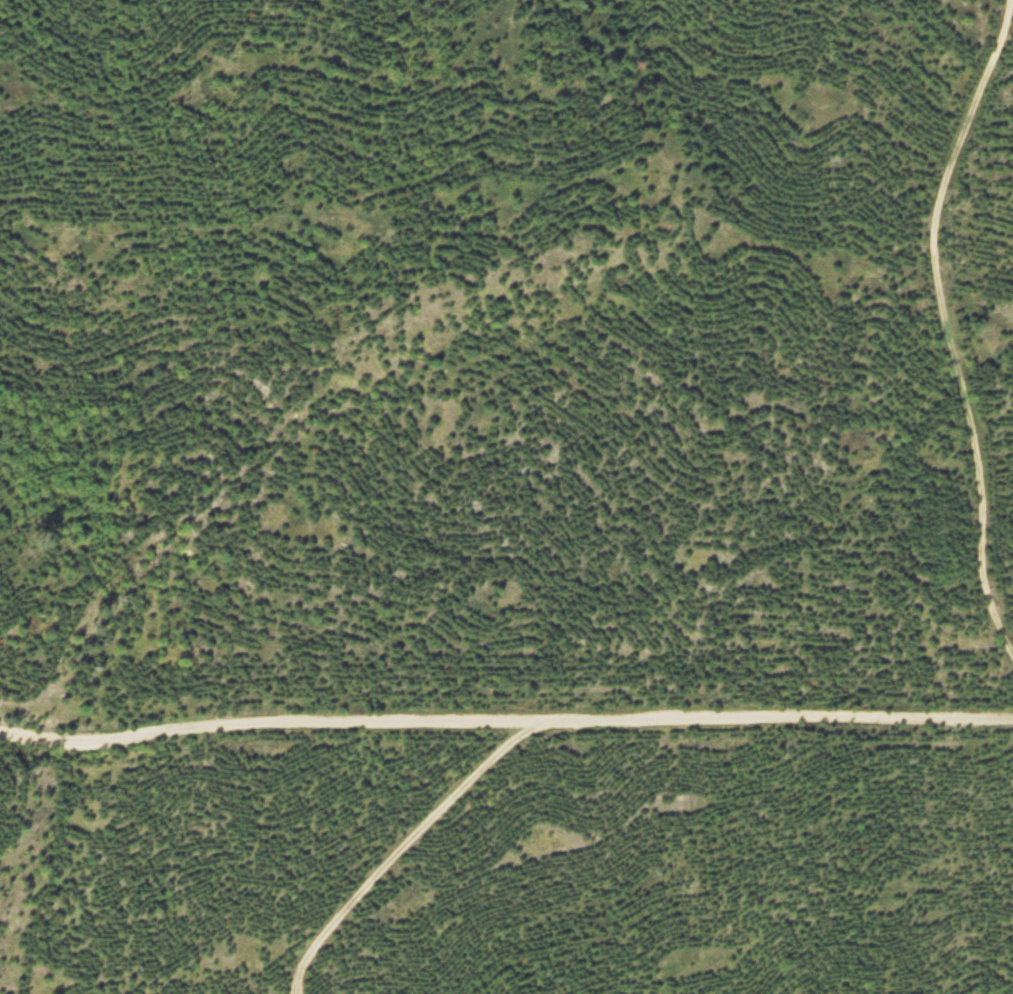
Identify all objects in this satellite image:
road: (948, 319)
road: (505, 717)
road: (410, 851)
road: (295, 982)

